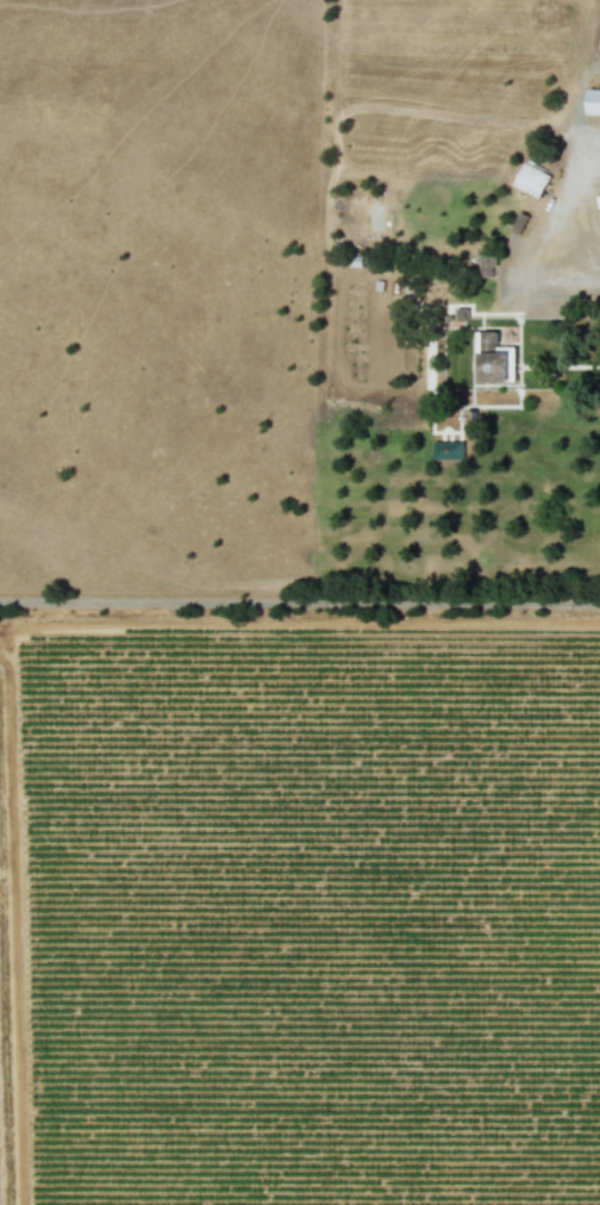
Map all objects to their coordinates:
building: (593, 100)
building: (531, 177)
road: (575, 196)
road: (300, 598)
crop: (300, 602)

